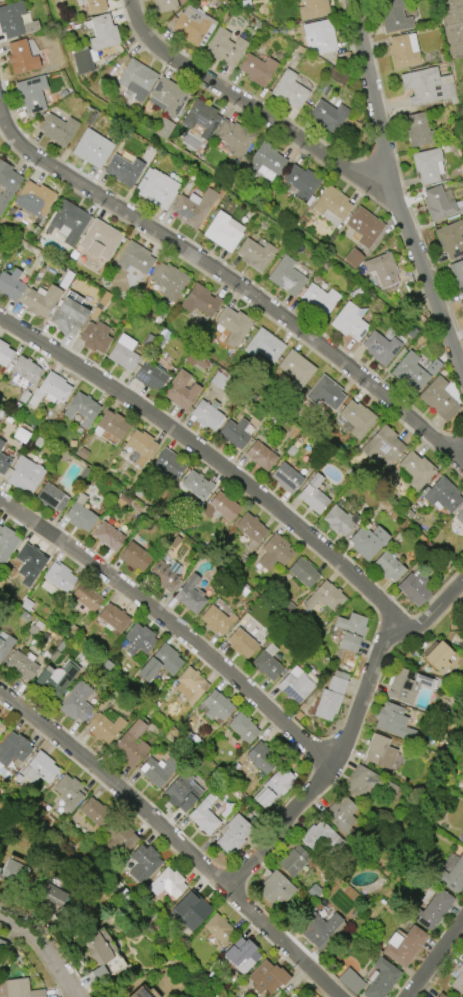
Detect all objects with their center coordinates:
building: (164, 5)
building: (95, 6)
building: (313, 9)
building: (394, 15)
building: (11, 20)
building: (193, 25)
building: (451, 26)
building: (320, 36)
building: (95, 43)
building: (224, 48)
building: (403, 51)
building: (21, 58)
building: (257, 69)
building: (336, 76)
building: (136, 79)
building: (428, 87)
building: (289, 90)
building: (31, 94)
building: (168, 96)
road: (253, 101)
building: (328, 116)
building: (201, 118)
building: (164, 128)
building: (57, 129)
building: (419, 130)
building: (234, 138)
building: (92, 149)
building: (264, 162)
building: (428, 165)
building: (124, 168)
building: (301, 182)
building: (7, 184)
road: (394, 189)
building: (158, 190)
building: (33, 199)
building: (437, 204)
building: (331, 206)
building: (193, 208)
building: (67, 222)
building: (364, 227)
building: (223, 231)
building: (450, 239)
building: (99, 240)
building: (254, 254)
building: (134, 258)
building: (353, 258)
building: (382, 269)
road: (231, 274)
building: (457, 275)
building: (286, 276)
building: (65, 280)
building: (168, 280)
building: (10, 285)
building: (318, 299)
building: (40, 300)
building: (199, 301)
building: (462, 303)
building: (68, 317)
building: (349, 323)
building: (233, 326)
building: (95, 337)
building: (263, 346)
building: (380, 348)
building: (123, 353)
building: (4, 354)
building: (196, 361)
building: (433, 366)
road: (86, 369)
building: (25, 370)
building: (295, 370)
building: (410, 372)
building: (149, 376)
building: (218, 380)
building: (54, 387)
building: (180, 390)
building: (325, 393)
building: (24, 397)
building: (438, 399)
building: (82, 409)
building: (206, 416)
building: (356, 419)
building: (112, 425)
building: (234, 433)
building: (21, 435)
building: (1, 444)
building: (141, 444)
building: (383, 446)
building: (260, 456)
building: (4, 463)
building: (168, 464)
building: (415, 470)
building: (25, 475)
building: (286, 478)
building: (197, 485)
building: (442, 494)
building: (313, 495)
building: (51, 497)
building: (385, 505)
building: (220, 507)
building: (79, 514)
building: (460, 517)
building: (339, 521)
road: (295, 523)
building: (250, 530)
building: (107, 536)
building: (367, 542)
building: (6, 544)
building: (274, 552)
building: (134, 557)
building: (30, 561)
building: (388, 567)
building: (303, 572)
building: (58, 576)
building: (162, 576)
building: (414, 588)
building: (190, 595)
building: (86, 597)
building: (325, 597)
building: (114, 618)
road: (172, 621)
building: (216, 621)
building: (350, 632)
building: (139, 640)
building: (241, 643)
building: (5, 646)
building: (438, 657)
building: (160, 662)
building: (266, 665)
building: (20, 666)
building: (54, 680)
building: (190, 685)
building: (295, 685)
building: (405, 686)
building: (331, 696)
building: (76, 703)
building: (216, 706)
building: (393, 721)
building: (1, 727)
building: (103, 727)
road: (346, 727)
building: (242, 728)
building: (131, 745)
building: (13, 749)
building: (379, 752)
building: (261, 758)
building: (39, 769)
building: (157, 771)
building: (368, 783)
building: (273, 787)
building: (181, 791)
building: (68, 792)
building: (226, 810)
building: (93, 812)
building: (203, 815)
building: (341, 816)
building: (233, 834)
building: (460, 837)
road: (175, 839)
building: (321, 839)
building: (121, 840)
building: (293, 861)
building: (143, 863)
building: (12, 873)
building: (452, 876)
building: (167, 883)
building: (275, 889)
building: (52, 895)
building: (193, 907)
building: (432, 910)
building: (317, 928)
building: (218, 929)
building: (405, 947)
road: (44, 949)
building: (3, 950)
building: (97, 953)
building: (241, 955)
road: (433, 956)
building: (267, 979)
building: (381, 979)
building: (458, 980)
building: (350, 981)
building: (21, 989)
building: (140, 993)
building: (440, 995)

